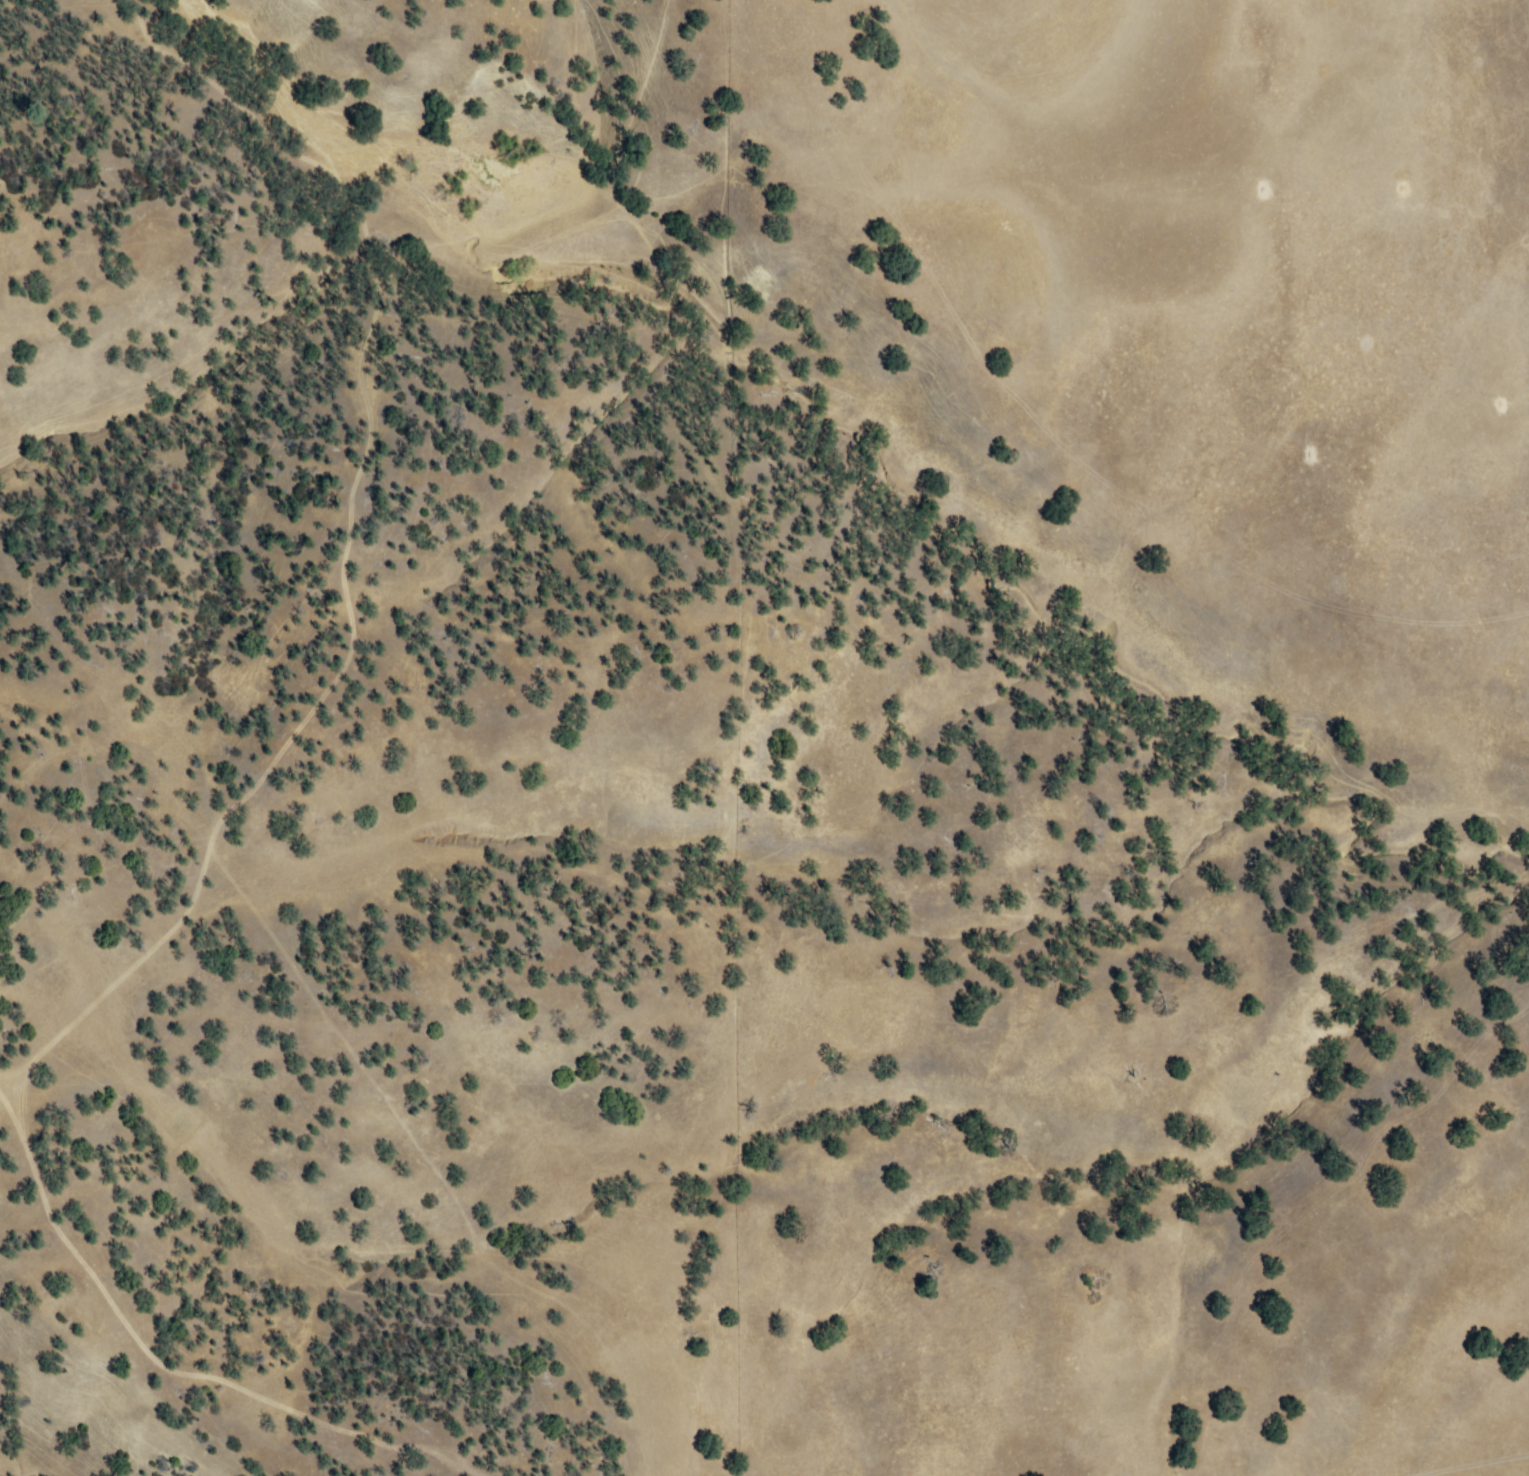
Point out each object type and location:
road: (196, 1362)

